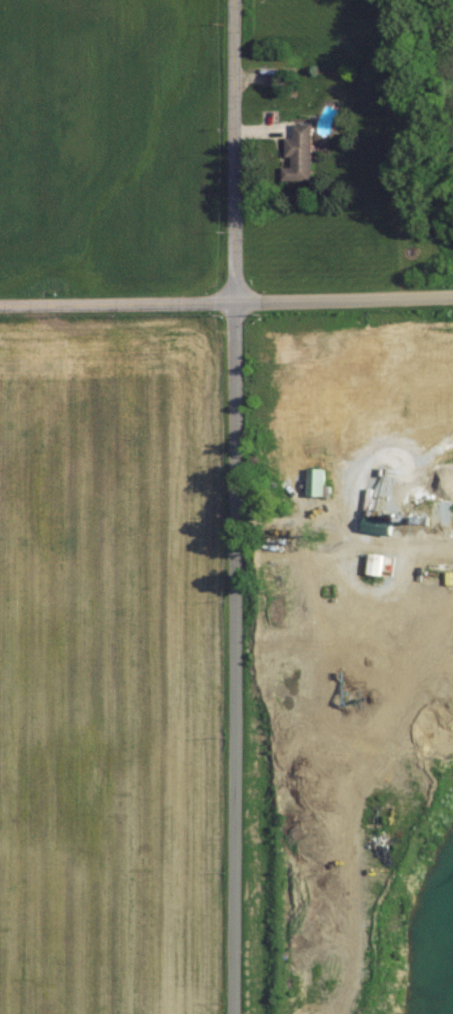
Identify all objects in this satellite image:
crop: (110, 144)
road: (232, 152)
building: (297, 154)
road: (226, 304)
building: (441, 466)
building: (314, 482)
road: (236, 658)
quarry: (348, 661)
crop: (109, 664)

